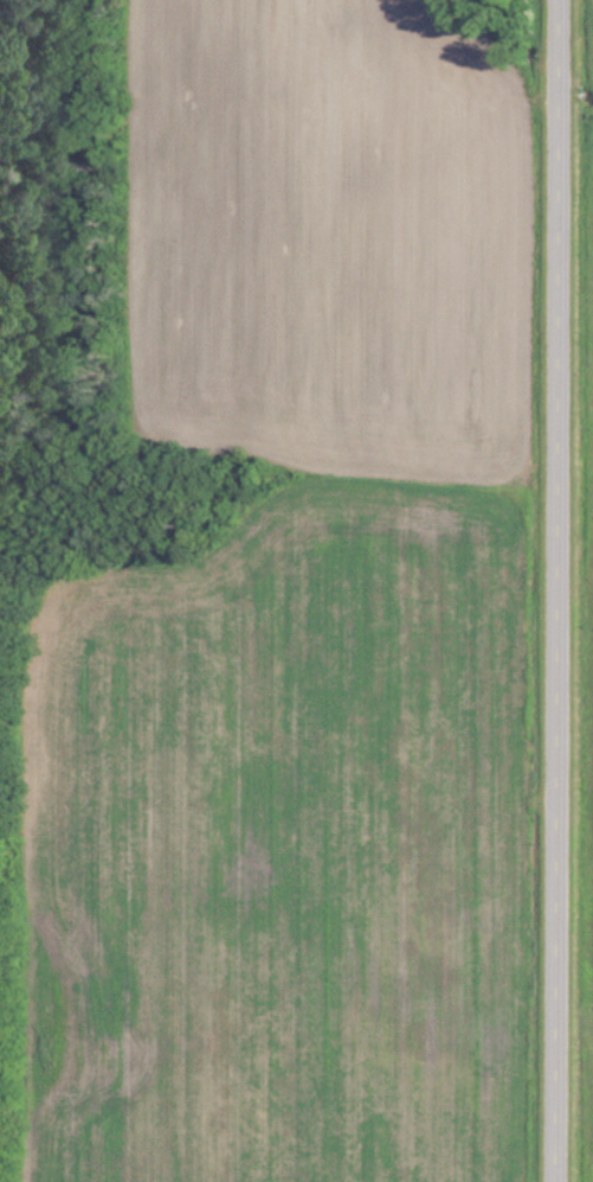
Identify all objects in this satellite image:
road: (561, 590)

